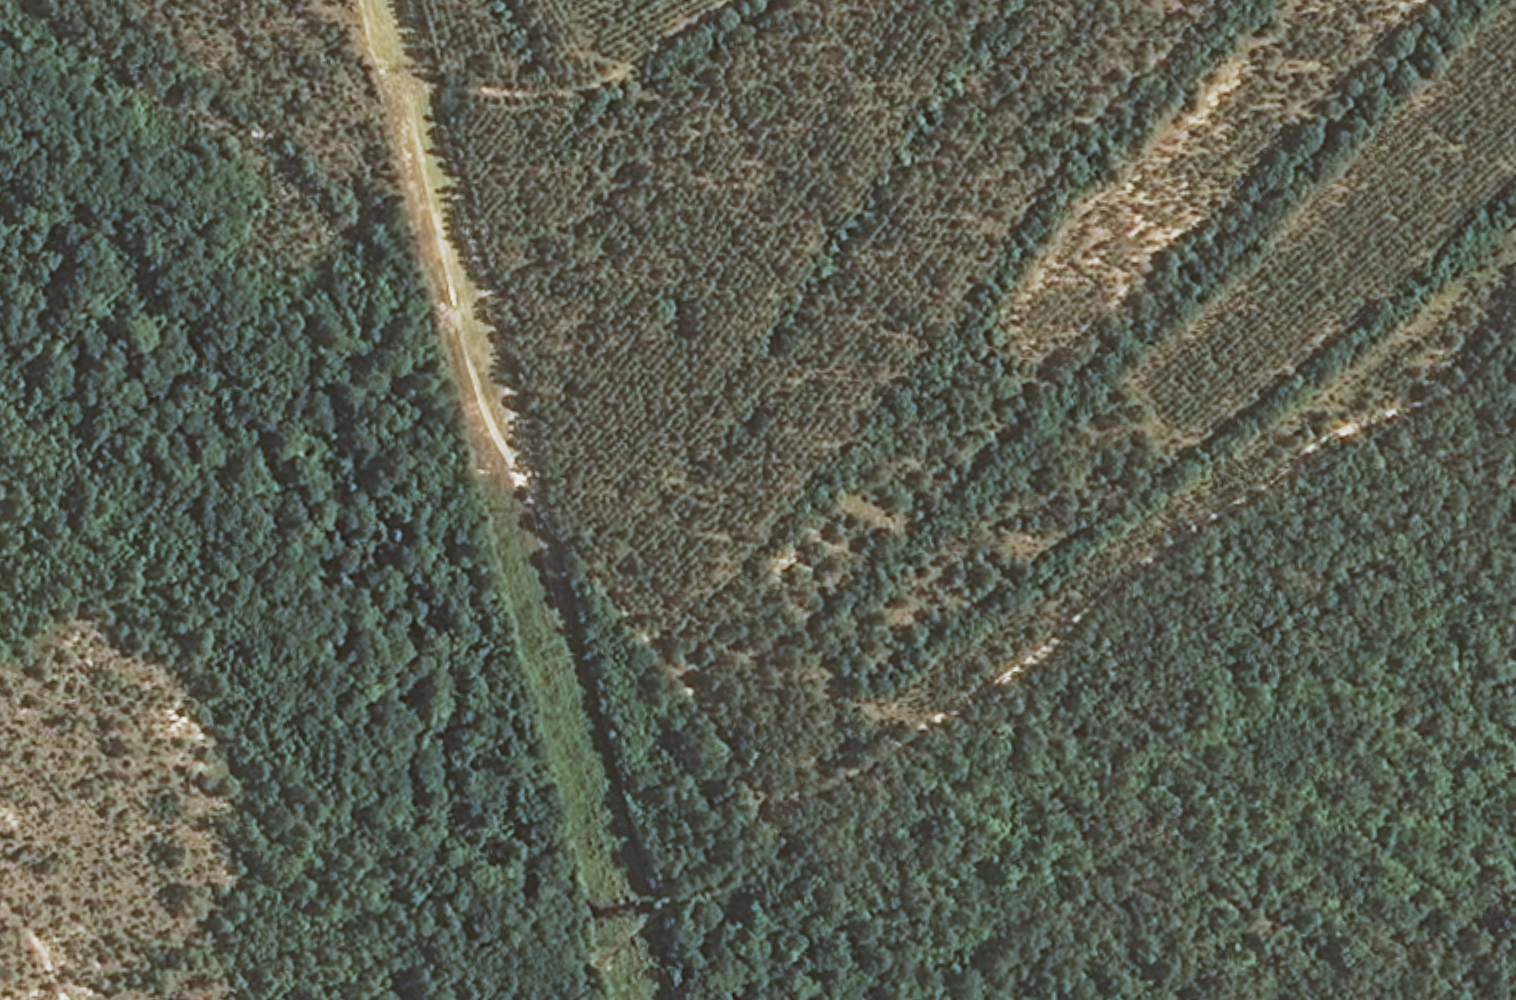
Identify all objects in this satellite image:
power tower: (399, 66)
power tower: (510, 505)
road: (1100, 630)
road: (655, 909)
power tower: (626, 945)
road: (597, 963)

